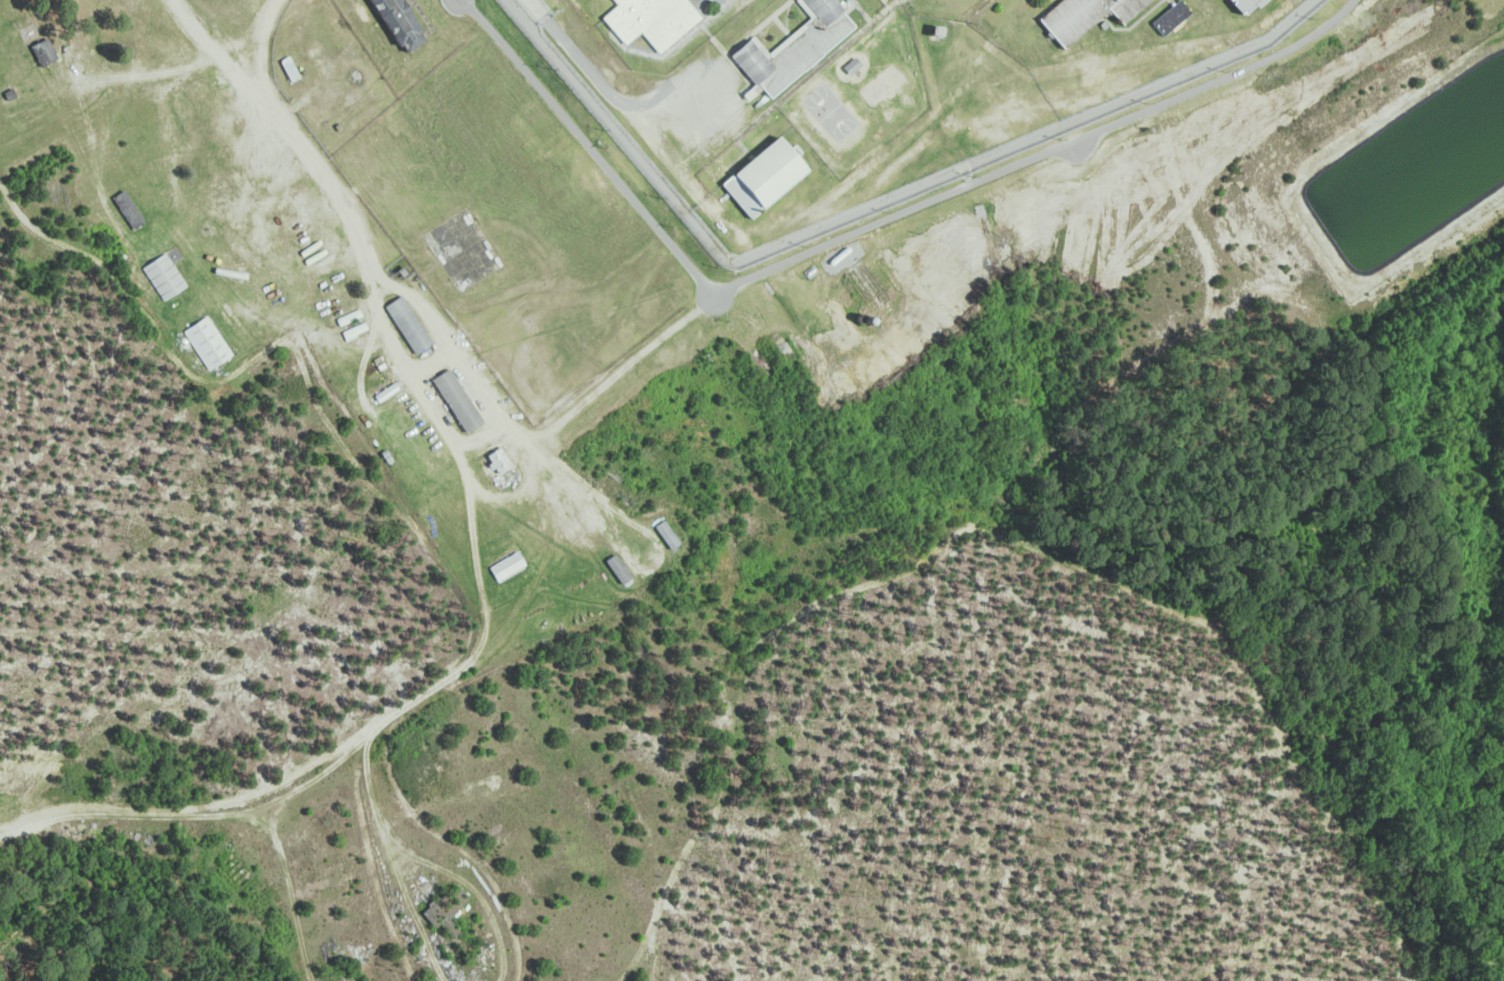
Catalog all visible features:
building: (1242, 6)
road: (538, 8)
building: (1084, 16)
building: (1170, 19)
building: (649, 22)
building: (399, 25)
building: (934, 35)
building: (793, 50)
building: (850, 67)
park: (880, 86)
park: (830, 111)
building: (760, 179)
road: (869, 208)
road: (354, 228)
road: (864, 229)
building: (161, 275)
building: (408, 321)
building: (205, 341)
road: (454, 346)
building: (384, 391)
building: (457, 397)
building: (499, 457)
building: (505, 565)

